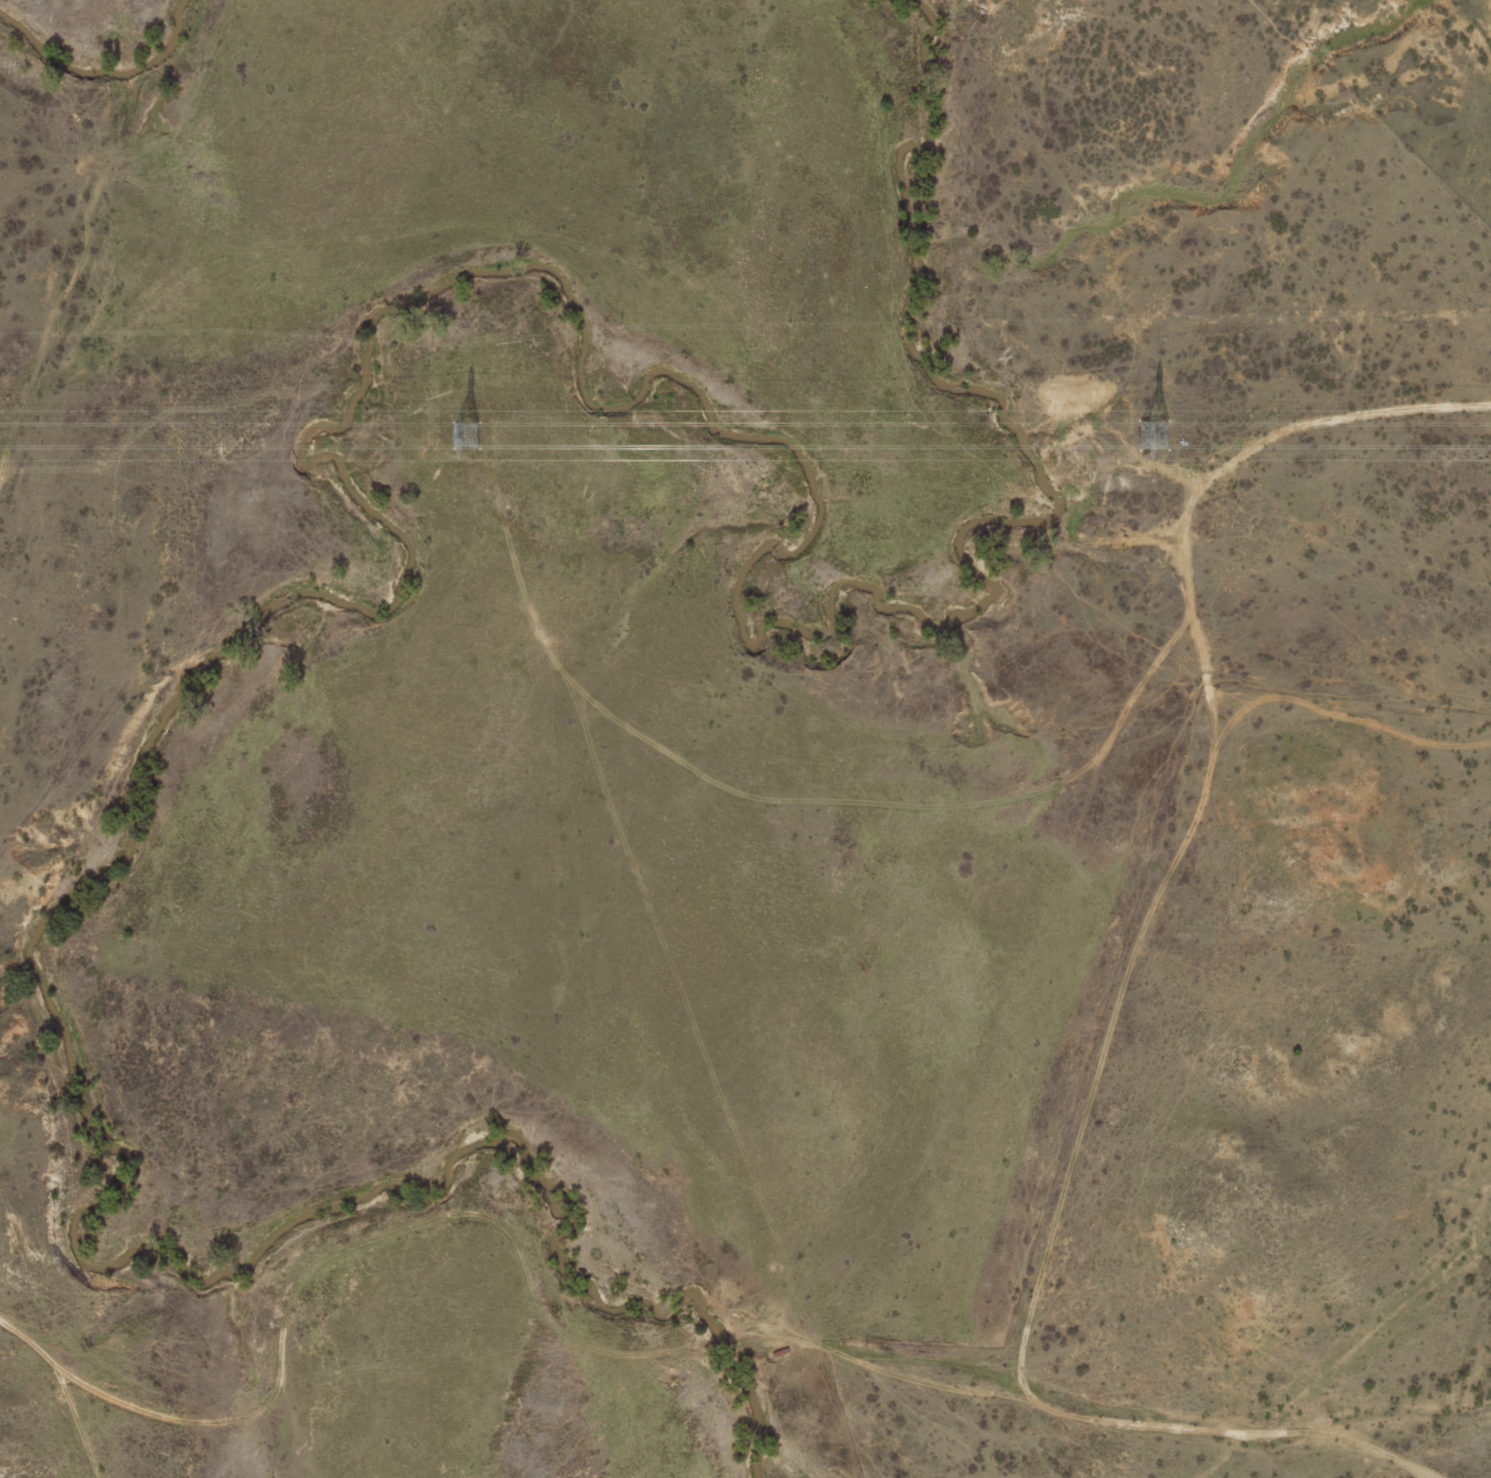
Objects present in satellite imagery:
road: (1456, 73)
road: (86, 244)
power tower: (470, 436)
power tower: (1160, 437)

